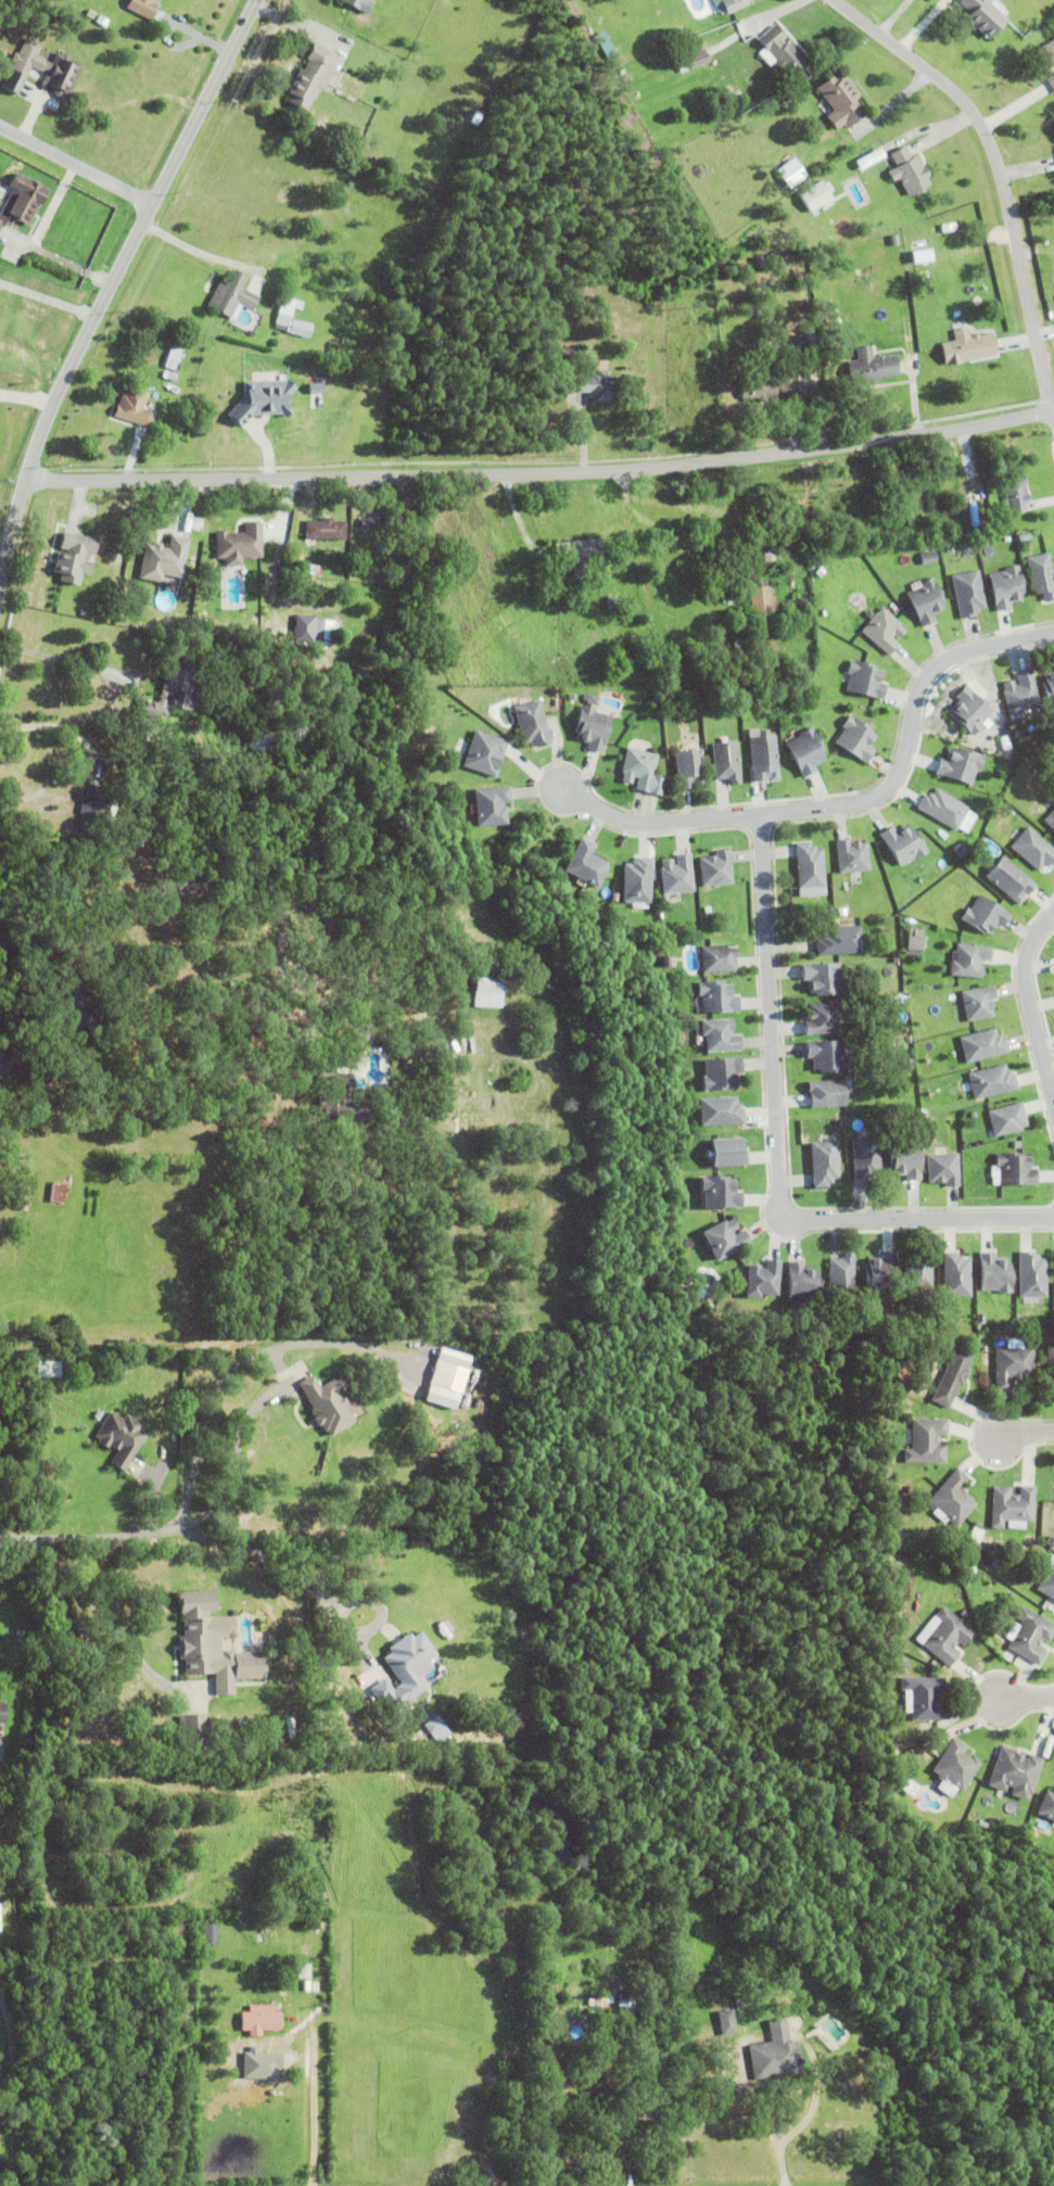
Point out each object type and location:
building: (359, 4)
building: (734, 4)
building: (144, 8)
building: (983, 16)
building: (784, 52)
building: (694, 60)
building: (1047, 61)
building: (42, 71)
building: (312, 78)
building: (842, 102)
building: (478, 119)
building: (871, 160)
road: (73, 162)
building: (796, 171)
road: (1000, 171)
building: (910, 173)
building: (818, 195)
building: (22, 202)
building: (944, 229)
building: (957, 246)
road: (109, 275)
building: (232, 296)
building: (284, 312)
building: (826, 321)
building: (814, 325)
building: (300, 330)
building: (813, 342)
building: (968, 347)
building: (176, 360)
building: (871, 368)
building: (770, 385)
building: (317, 387)
building: (597, 387)
building: (267, 397)
building: (136, 409)
road: (1053, 414)
road: (538, 474)
building: (1016, 495)
building: (973, 516)
building: (382, 522)
building: (326, 531)
building: (242, 544)
building: (580, 555)
building: (77, 557)
building: (929, 559)
building: (164, 561)
building: (309, 570)
building: (821, 573)
building: (1039, 574)
building: (169, 588)
building: (1007, 588)
building: (969, 595)
building: (762, 599)
building: (611, 602)
building: (926, 602)
building: (316, 628)
building: (885, 632)
road: (58, 658)
building: (772, 671)
building: (866, 681)
building: (178, 691)
building: (1050, 692)
building: (1021, 696)
building: (972, 712)
building: (533, 726)
road: (56, 728)
building: (593, 729)
building: (858, 741)
building: (261, 742)
building: (1005, 745)
building: (481, 752)
building: (807, 753)
building: (764, 761)
building: (726, 764)
building: (961, 766)
building: (689, 771)
building: (643, 773)
building: (488, 804)
road: (850, 805)
building: (94, 809)
building: (948, 812)
building: (1051, 822)
building: (139, 842)
building: (904, 846)
building: (1034, 851)
building: (853, 859)
building: (582, 863)
building: (810, 869)
building: (716, 870)
building: (677, 877)
building: (634, 879)
building: (1011, 882)
building: (828, 914)
building: (842, 914)
building: (985, 917)
building: (913, 941)
building: (840, 943)
building: (719, 961)
building: (970, 962)
building: (824, 981)
building: (478, 992)
building: (718, 1000)
building: (899, 1000)
building: (978, 1005)
road: (1028, 1009)
building: (822, 1020)
building: (720, 1039)
building: (364, 1040)
building: (983, 1047)
building: (361, 1055)
building: (828, 1059)
building: (909, 1066)
building: (332, 1078)
building: (721, 1078)
building: (993, 1083)
building: (827, 1096)
building: (341, 1113)
building: (721, 1115)
building: (1007, 1121)
road: (774, 1152)
building: (728, 1155)
building: (905, 1160)
building: (867, 1164)
building: (825, 1166)
building: (1016, 1171)
building: (944, 1172)
building: (58, 1194)
building: (720, 1196)
building: (24, 1202)
building: (724, 1243)
building: (919, 1273)
building: (996, 1275)
building: (881, 1276)
building: (842, 1278)
building: (957, 1278)
building: (1032, 1278)
building: (763, 1283)
building: (803, 1285)
building: (1051, 1362)
building: (1014, 1368)
building: (443, 1377)
building: (953, 1381)
building: (436, 1396)
building: (888, 1396)
building: (328, 1407)
building: (99, 1418)
building: (151, 1419)
building: (433, 1424)
road: (1024, 1435)
building: (122, 1441)
building: (926, 1444)
road: (232, 1462)
building: (952, 1498)
building: (1012, 1505)
road: (189, 1530)
building: (975, 1537)
building: (1051, 1540)
building: (945, 1550)
building: (969, 1568)
building: (21, 1577)
building: (1046, 1581)
building: (1030, 1634)
building: (947, 1635)
building: (21, 1638)
building: (204, 1638)
building: (407, 1674)
building: (925, 1696)
road: (1025, 1700)
building: (3, 1712)
building: (433, 1728)
building: (194, 1732)
building: (956, 1765)
building: (1015, 1770)
building: (1046, 1805)
building: (18, 1876)
building: (1, 1917)
building: (296, 1929)
building: (188, 1932)
building: (206, 1933)
building: (60, 1996)
building: (625, 1998)
building: (640, 2001)
building: (261, 2020)
building: (726, 2020)
building: (773, 2049)
road: (14, 2089)
building: (34, 2095)
building: (596, 2095)
road: (313, 2099)
building: (661, 2100)
road: (755, 2109)

